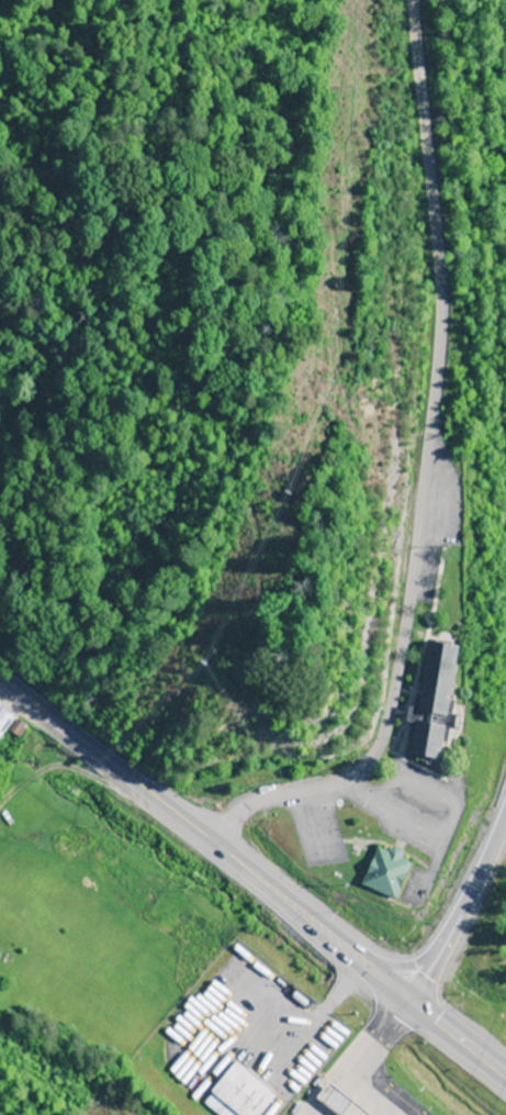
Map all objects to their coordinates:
building: (18, 401)
road: (417, 480)
building: (432, 700)
building: (3, 717)
road: (206, 841)
building: (385, 869)
road: (465, 914)
road: (404, 966)
road: (458, 1040)
building: (239, 1094)
building: (337, 1103)

